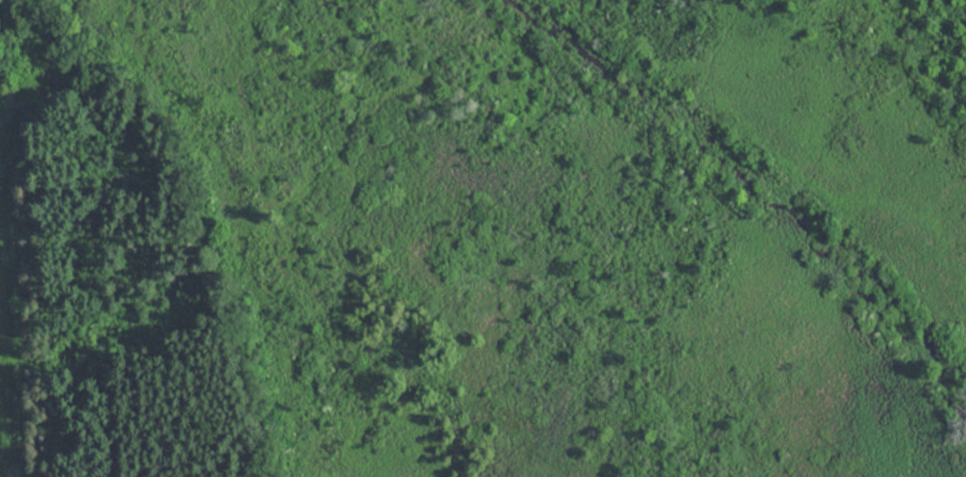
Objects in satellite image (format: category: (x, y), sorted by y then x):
park: (483, 238)

